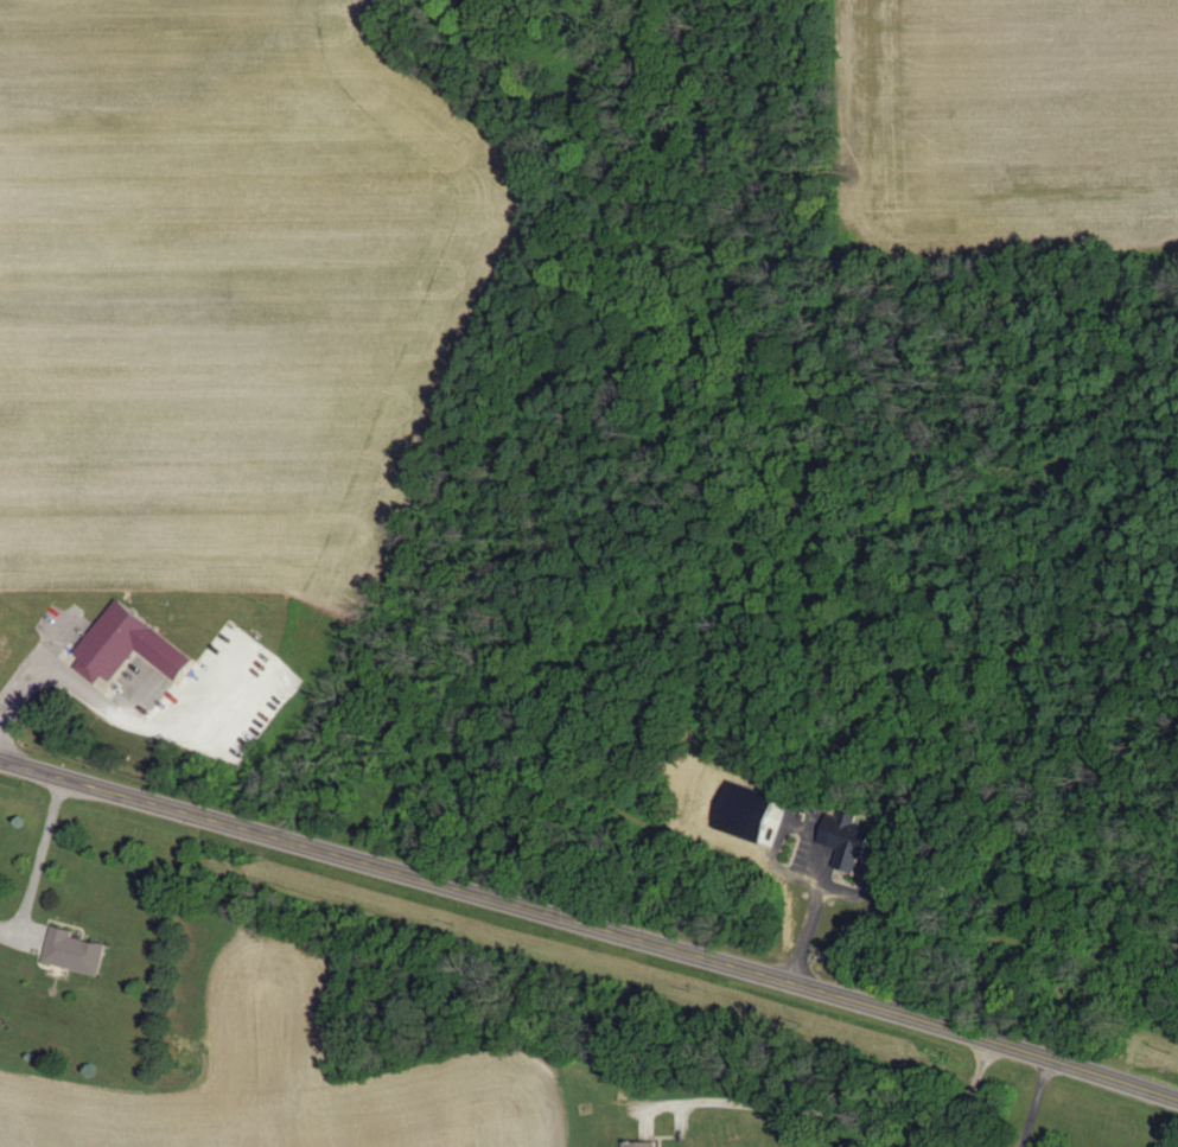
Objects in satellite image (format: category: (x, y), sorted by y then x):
building: (128, 648)
road: (63, 678)
building: (847, 843)
road: (40, 860)
road: (808, 919)
road: (591, 926)
building: (75, 954)
road: (1029, 1102)
road: (838, 1110)
building: (644, 1145)

